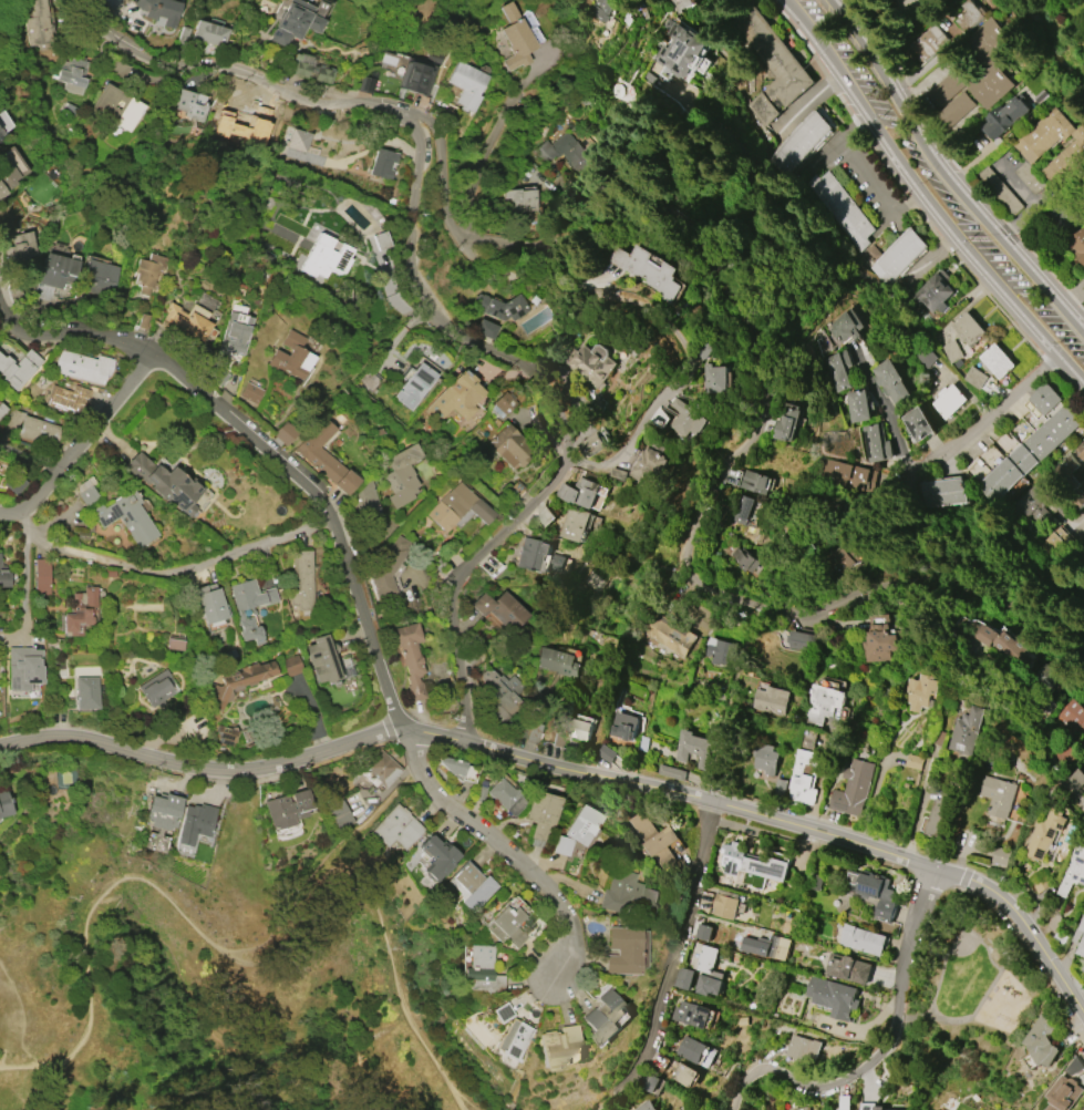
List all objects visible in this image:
building: (681, 4)
building: (603, 9)
building: (161, 10)
building: (970, 16)
building: (293, 22)
building: (40, 25)
building: (530, 27)
building: (208, 33)
building: (182, 34)
building: (932, 35)
building: (515, 38)
building: (990, 38)
building: (681, 51)
building: (771, 65)
building: (117, 68)
building: (311, 71)
building: (417, 73)
road: (921, 73)
building: (73, 75)
road: (252, 83)
building: (464, 85)
building: (990, 85)
building: (948, 86)
building: (189, 104)
building: (117, 106)
building: (954, 110)
building: (1000, 121)
building: (1, 133)
building: (257, 133)
building: (297, 140)
building: (798, 143)
road: (493, 146)
building: (1033, 151)
building: (566, 152)
building: (381, 163)
road: (956, 164)
building: (10, 168)
road: (941, 175)
building: (1030, 177)
road: (865, 178)
road: (906, 184)
building: (1001, 191)
road: (926, 197)
building: (519, 201)
road: (1030, 204)
building: (838, 209)
building: (1064, 215)
building: (381, 240)
building: (1077, 244)
building: (20, 249)
building: (895, 256)
building: (324, 257)
building: (56, 270)
building: (647, 270)
building: (146, 273)
building: (97, 278)
building: (933, 292)
building: (14, 294)
building: (499, 307)
building: (186, 321)
building: (843, 327)
building: (485, 329)
building: (235, 330)
building: (969, 330)
road: (678, 337)
building: (950, 351)
building: (705, 352)
building: (290, 357)
building: (923, 358)
building: (997, 361)
building: (82, 367)
building: (591, 367)
building: (18, 368)
building: (839, 370)
building: (974, 378)
building: (369, 379)
building: (714, 379)
building: (890, 382)
building: (413, 387)
building: (249, 393)
building: (66, 398)
building: (455, 398)
building: (1046, 399)
building: (949, 401)
building: (503, 402)
building: (859, 405)
building: (2, 409)
road: (882, 414)
building: (685, 419)
building: (788, 422)
road: (979, 422)
building: (917, 423)
building: (37, 430)
building: (283, 433)
road: (564, 435)
road: (75, 443)
building: (876, 443)
building: (593, 444)
road: (744, 445)
road: (266, 446)
building: (508, 446)
building: (1080, 451)
road: (29, 455)
building: (1028, 455)
building: (324, 458)
building: (1068, 464)
building: (647, 466)
building: (401, 474)
building: (842, 474)
building: (754, 482)
building: (14, 483)
building: (164, 483)
building: (514, 489)
building: (1073, 491)
building: (579, 492)
building: (941, 493)
building: (199, 499)
building: (364, 501)
building: (1032, 506)
building: (456, 507)
building: (740, 512)
building: (118, 515)
building: (575, 524)
building: (1052, 544)
road: (22, 547)
building: (529, 553)
building: (842, 557)
building: (744, 559)
building: (389, 565)
building: (2, 577)
building: (41, 577)
building: (300, 580)
road: (167, 583)
building: (208, 603)
building: (249, 607)
building: (500, 609)
building: (79, 611)
road: (931, 629)
building: (670, 635)
building: (801, 641)
building: (174, 643)
building: (882, 645)
building: (1003, 645)
building: (719, 650)
building: (409, 657)
building: (321, 659)
building: (557, 662)
building: (290, 665)
building: (23, 668)
building: (239, 681)
road: (1013, 687)
building: (155, 688)
building: (85, 692)
building: (925, 692)
building: (502, 696)
building: (772, 699)
building: (826, 703)
building: (1072, 715)
building: (624, 726)
building: (578, 729)
building: (529, 730)
building: (969, 731)
building: (223, 733)
building: (558, 739)
building: (643, 743)
building: (693, 748)
building: (606, 753)
building: (1064, 753)
building: (768, 759)
road: (1052, 761)
road: (199, 767)
building: (379, 769)
building: (457, 769)
building: (672, 772)
building: (804, 777)
building: (780, 784)
building: (853, 789)
building: (479, 793)
building: (999, 795)
building: (505, 796)
building: (4, 804)
building: (287, 809)
building: (162, 811)
building: (339, 814)
building: (540, 814)
building: (937, 816)
road: (774, 819)
building: (194, 823)
building: (580, 825)
building: (396, 829)
building: (1044, 834)
building: (655, 842)
building: (560, 845)
road: (503, 846)
building: (436, 856)
building: (1001, 856)
building: (751, 866)
building: (1073, 872)
building: (1040, 882)
building: (472, 886)
building: (875, 894)
building: (628, 895)
building: (725, 904)
building: (512, 923)
building: (704, 932)
building: (1080, 937)
building: (863, 939)
building: (766, 947)
building: (622, 950)
road: (225, 952)
road: (672, 956)
building: (704, 957)
building: (850, 969)
building: (479, 970)
road: (995, 977)
building: (683, 978)
park: (961, 979)
road: (935, 984)
building: (709, 985)
building: (834, 997)
building: (502, 1013)
building: (690, 1014)
road: (21, 1016)
building: (605, 1017)
building: (1042, 1040)
building: (510, 1041)
building: (559, 1047)
road: (878, 1048)
building: (692, 1049)
building: (805, 1049)
building: (1073, 1068)
building: (686, 1076)
building: (1063, 1093)
road: (458, 1094)
building: (847, 1102)
road: (602, 1103)
building: (647, 1106)
building: (871, 1107)
building: (804, 1109)
building: (811, 1109)
building: (937, 1109)

